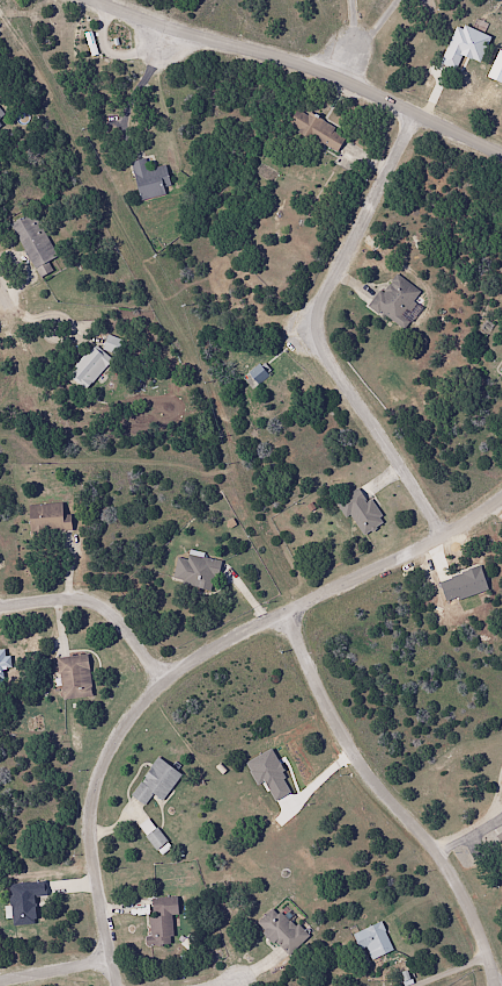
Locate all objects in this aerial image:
road: (360, 25)
road: (392, 29)
road: (295, 69)
road: (357, 69)
building: (0, 114)
building: (0, 124)
building: (315, 131)
building: (149, 180)
building: (35, 244)
road: (9, 293)
building: (395, 300)
road: (318, 330)
building: (89, 366)
building: (500, 369)
building: (257, 373)
building: (360, 510)
building: (47, 518)
building: (195, 571)
road: (334, 584)
road: (100, 603)
building: (73, 676)
building: (155, 782)
road: (388, 796)
road: (95, 821)
building: (499, 836)
building: (154, 838)
building: (24, 901)
building: (161, 921)
building: (280, 930)
building: (372, 941)
road: (57, 968)
road: (236, 984)

